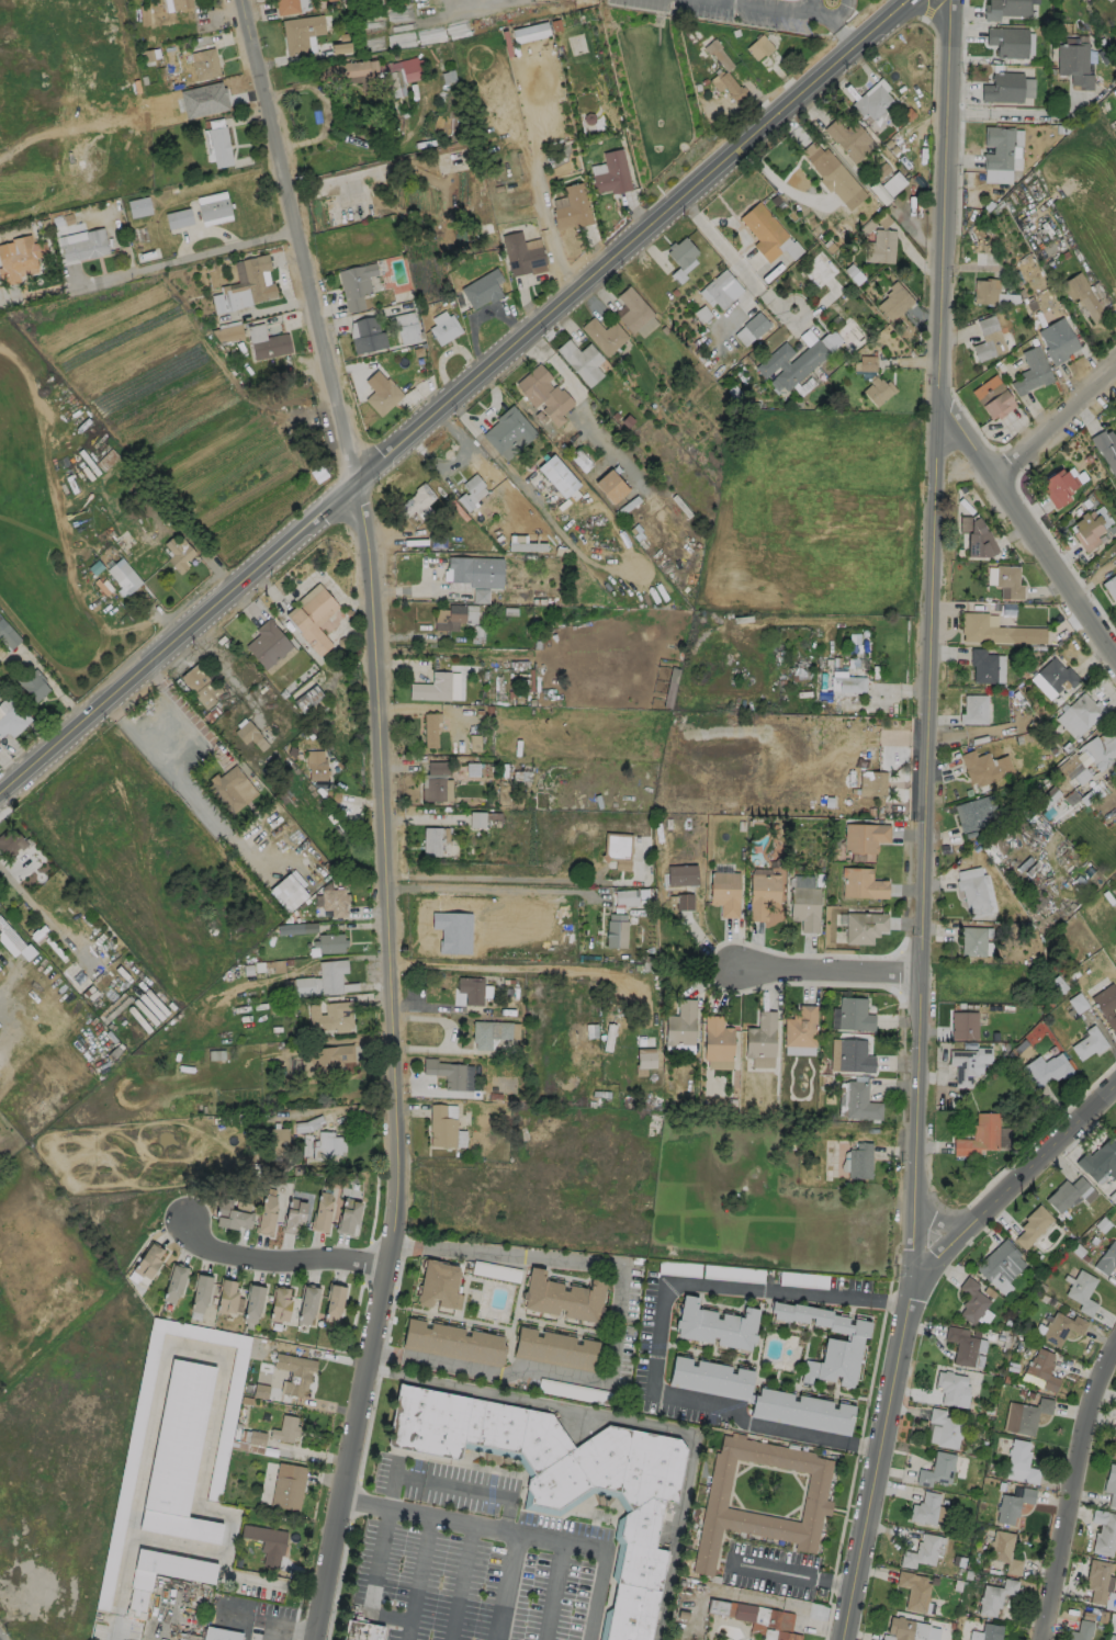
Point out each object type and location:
building: (180, 4)
road: (809, 5)
building: (286, 7)
building: (1005, 8)
road: (803, 10)
road: (842, 12)
road: (937, 21)
building: (528, 32)
building: (301, 33)
building: (1007, 41)
building: (758, 47)
building: (340, 48)
building: (1073, 63)
building: (205, 64)
building: (722, 71)
building: (374, 73)
building: (1006, 87)
building: (875, 104)
road: (1018, 114)
building: (848, 138)
building: (217, 146)
building: (997, 147)
building: (819, 159)
building: (611, 173)
building: (341, 183)
building: (893, 183)
building: (138, 206)
building: (572, 206)
building: (214, 208)
building: (178, 217)
building: (764, 230)
building: (84, 246)
building: (880, 246)
road: (722, 247)
building: (683, 251)
building: (522, 253)
building: (19, 258)
road: (183, 258)
building: (818, 269)
building: (356, 284)
building: (245, 285)
building: (721, 289)
road: (36, 291)
building: (481, 291)
building: (985, 291)
building: (1083, 296)
building: (893, 301)
building: (633, 309)
building: (752, 328)
building: (406, 329)
building: (444, 329)
building: (228, 333)
building: (849, 333)
building: (367, 335)
building: (604, 335)
building: (988, 339)
building: (1057, 340)
building: (267, 342)
building: (580, 361)
building: (790, 363)
building: (865, 364)
building: (1032, 371)
building: (877, 389)
building: (381, 393)
building: (544, 394)
building: (992, 396)
road: (460, 401)
road: (486, 411)
road: (1057, 419)
building: (508, 432)
building: (1106, 449)
road: (499, 461)
building: (557, 476)
building: (610, 486)
building: (1058, 486)
building: (471, 493)
building: (417, 501)
road: (1034, 528)
building: (1086, 530)
building: (976, 538)
building: (178, 553)
building: (476, 570)
building: (123, 576)
building: (1008, 580)
building: (1111, 586)
building: (480, 596)
building: (456, 614)
building: (312, 617)
building: (992, 629)
building: (8, 635)
building: (267, 644)
building: (981, 665)
building: (1057, 675)
building: (849, 683)
building: (34, 685)
building: (200, 686)
building: (431, 688)
building: (307, 699)
building: (972, 709)
building: (1084, 709)
building: (11, 717)
building: (430, 729)
building: (250, 735)
building: (1100, 748)
road: (193, 759)
building: (315, 765)
building: (983, 767)
building: (871, 783)
building: (230, 790)
building: (437, 790)
building: (970, 815)
road: (375, 816)
building: (476, 819)
road: (219, 822)
road: (923, 822)
building: (865, 837)
building: (430, 841)
building: (11, 844)
building: (616, 849)
building: (680, 875)
building: (861, 884)
road: (487, 890)
building: (972, 890)
building: (288, 893)
building: (724, 893)
building: (762, 895)
building: (624, 898)
building: (335, 902)
building: (684, 902)
building: (804, 908)
building: (450, 924)
building: (864, 927)
building: (615, 931)
building: (13, 941)
building: (972, 941)
building: (329, 942)
road: (514, 966)
road: (826, 972)
building: (331, 975)
building: (75, 976)
building: (471, 989)
building: (1106, 1005)
building: (852, 1015)
building: (330, 1017)
building: (680, 1023)
building: (963, 1026)
building: (800, 1031)
building: (492, 1032)
building: (760, 1036)
building: (717, 1039)
building: (1087, 1043)
building: (849, 1056)
building: (325, 1060)
building: (643, 1061)
building: (967, 1064)
building: (1045, 1070)
building: (446, 1073)
building: (860, 1101)
building: (307, 1124)
building: (441, 1127)
building: (1115, 1132)
building: (979, 1136)
building: (274, 1143)
building: (327, 1145)
building: (1100, 1161)
building: (859, 1162)
building: (1105, 1183)
road: (1012, 1195)
building: (1069, 1195)
building: (320, 1212)
building: (266, 1214)
building: (230, 1215)
building: (293, 1215)
building: (347, 1215)
road: (951, 1219)
building: (1032, 1226)
building: (1106, 1259)
road: (275, 1260)
building: (148, 1262)
building: (999, 1262)
building: (494, 1271)
building: (173, 1283)
building: (438, 1286)
building: (1081, 1291)
building: (200, 1293)
building: (226, 1298)
building: (562, 1298)
building: (971, 1301)
road: (887, 1302)
building: (252, 1303)
building: (334, 1303)
building: (307, 1304)
building: (280, 1305)
building: (715, 1326)
building: (1061, 1327)
road: (617, 1328)
road: (660, 1334)
building: (452, 1342)
building: (827, 1344)
building: (961, 1346)
building: (554, 1349)
building: (1041, 1371)
building: (294, 1373)
building: (709, 1378)
building: (952, 1389)
building: (576, 1391)
building: (801, 1411)
building: (1025, 1416)
building: (945, 1428)
building: (285, 1429)
building: (1114, 1449)
building: (178, 1456)
building: (1021, 1463)
building: (936, 1470)
building: (563, 1477)
building: (126, 1478)
building: (1111, 1484)
building: (288, 1486)
road: (1074, 1490)
building: (762, 1496)
building: (1013, 1505)
building: (924, 1508)
road: (521, 1531)
building: (1104, 1531)
building: (267, 1543)
building: (921, 1552)
building: (1004, 1552)
road: (419, 1567)
road: (798, 1574)
building: (198, 1579)
road: (461, 1581)
building: (1096, 1581)
road: (507, 1585)
road: (371, 1588)
building: (913, 1591)
building: (995, 1596)
road: (234, 1615)
building: (751, 1615)
road: (260, 1621)
road: (285, 1627)
building: (900, 1628)
building: (1081, 1630)
building: (360, 1631)
building: (987, 1632)
building: (219, 1635)
building: (786, 1636)
building: (1109, 1637)

